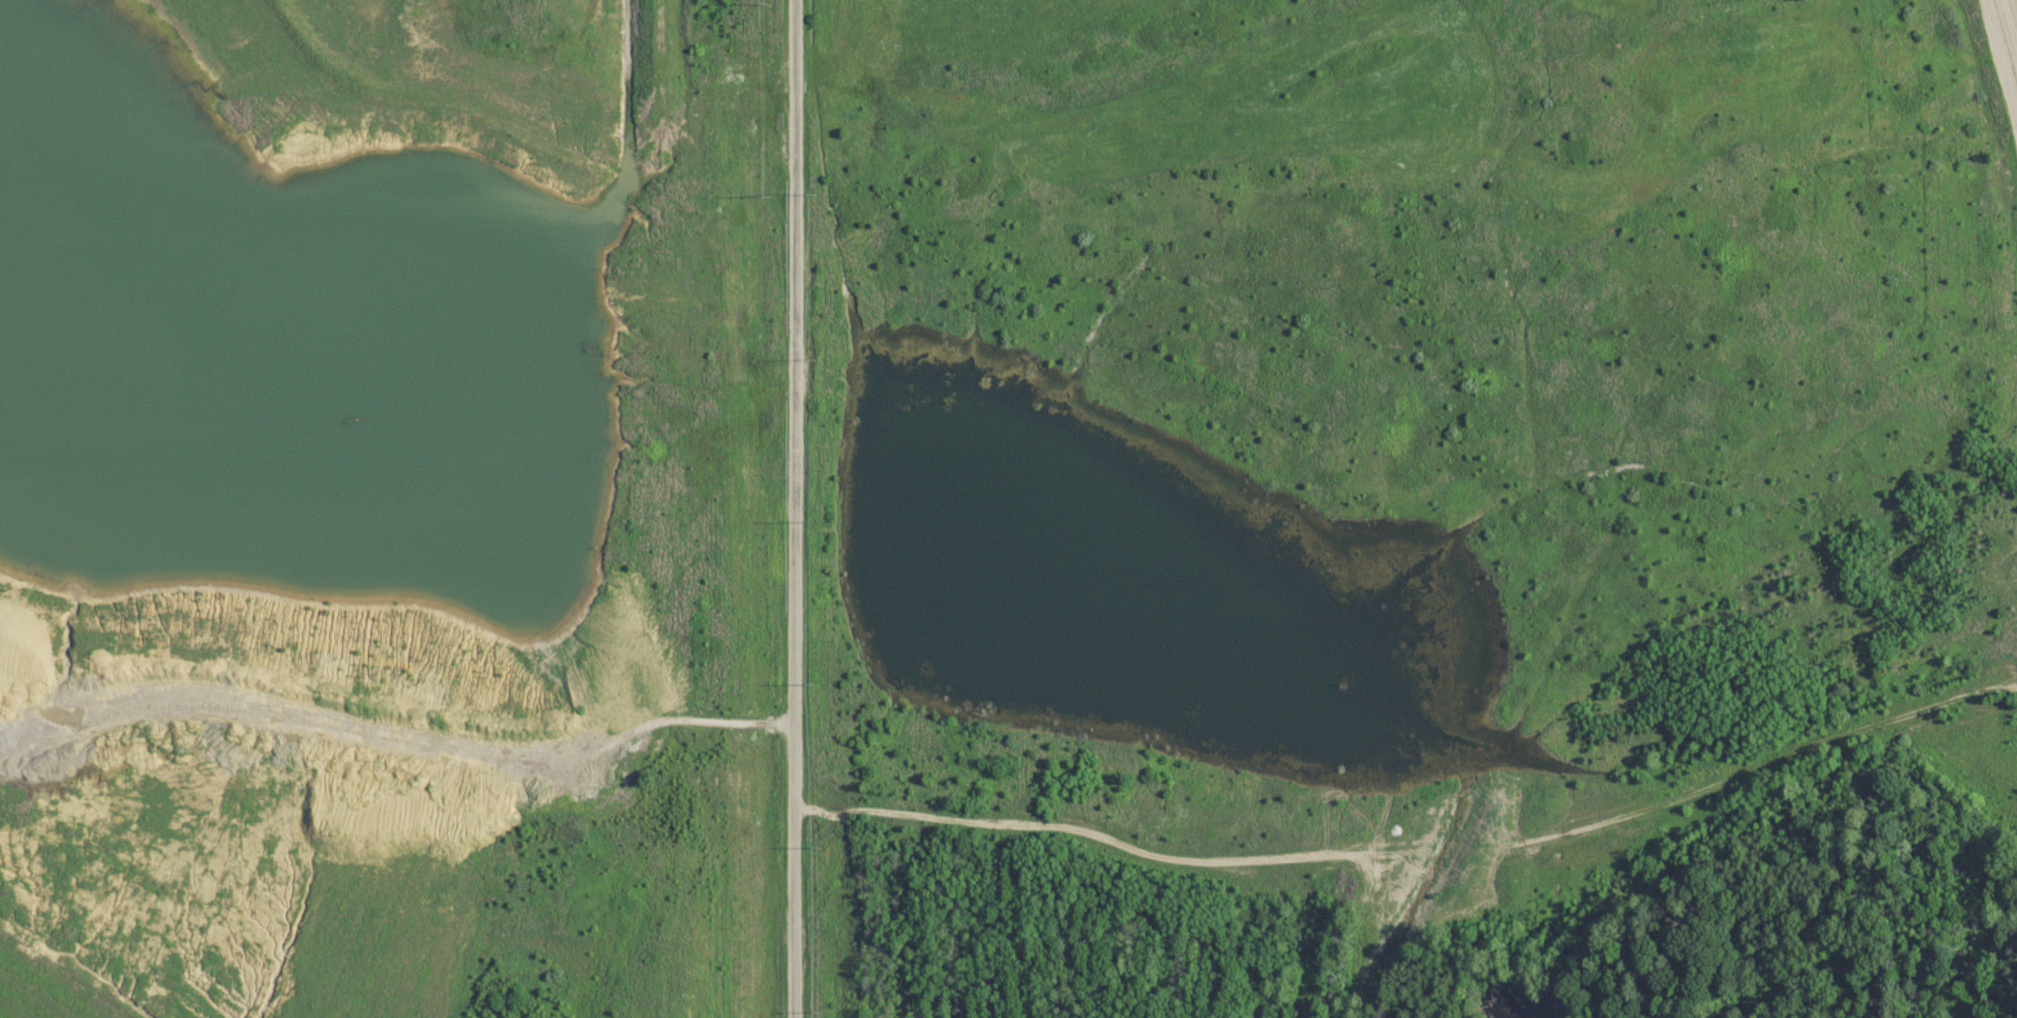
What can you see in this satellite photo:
road: (2006, 70)
quarry: (380, 486)
road: (790, 509)

